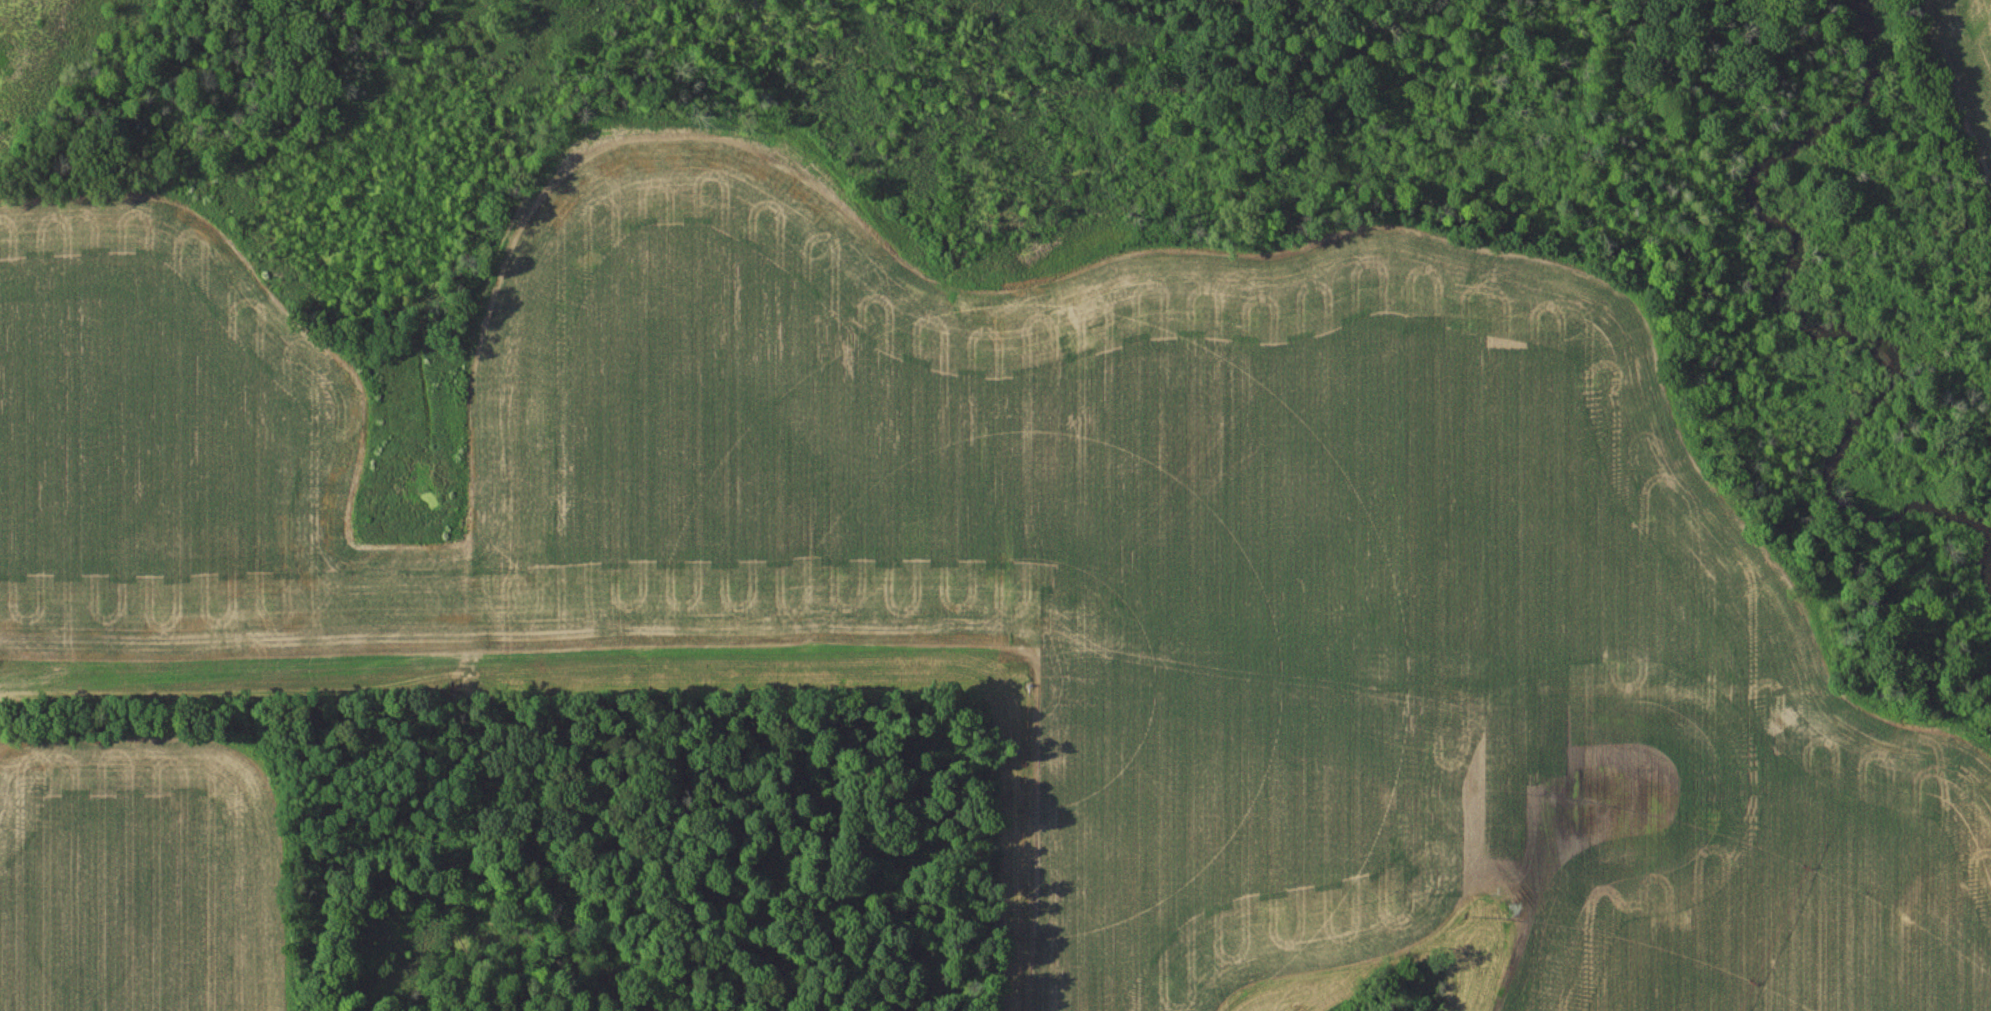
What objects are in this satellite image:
road: (503, 660)

